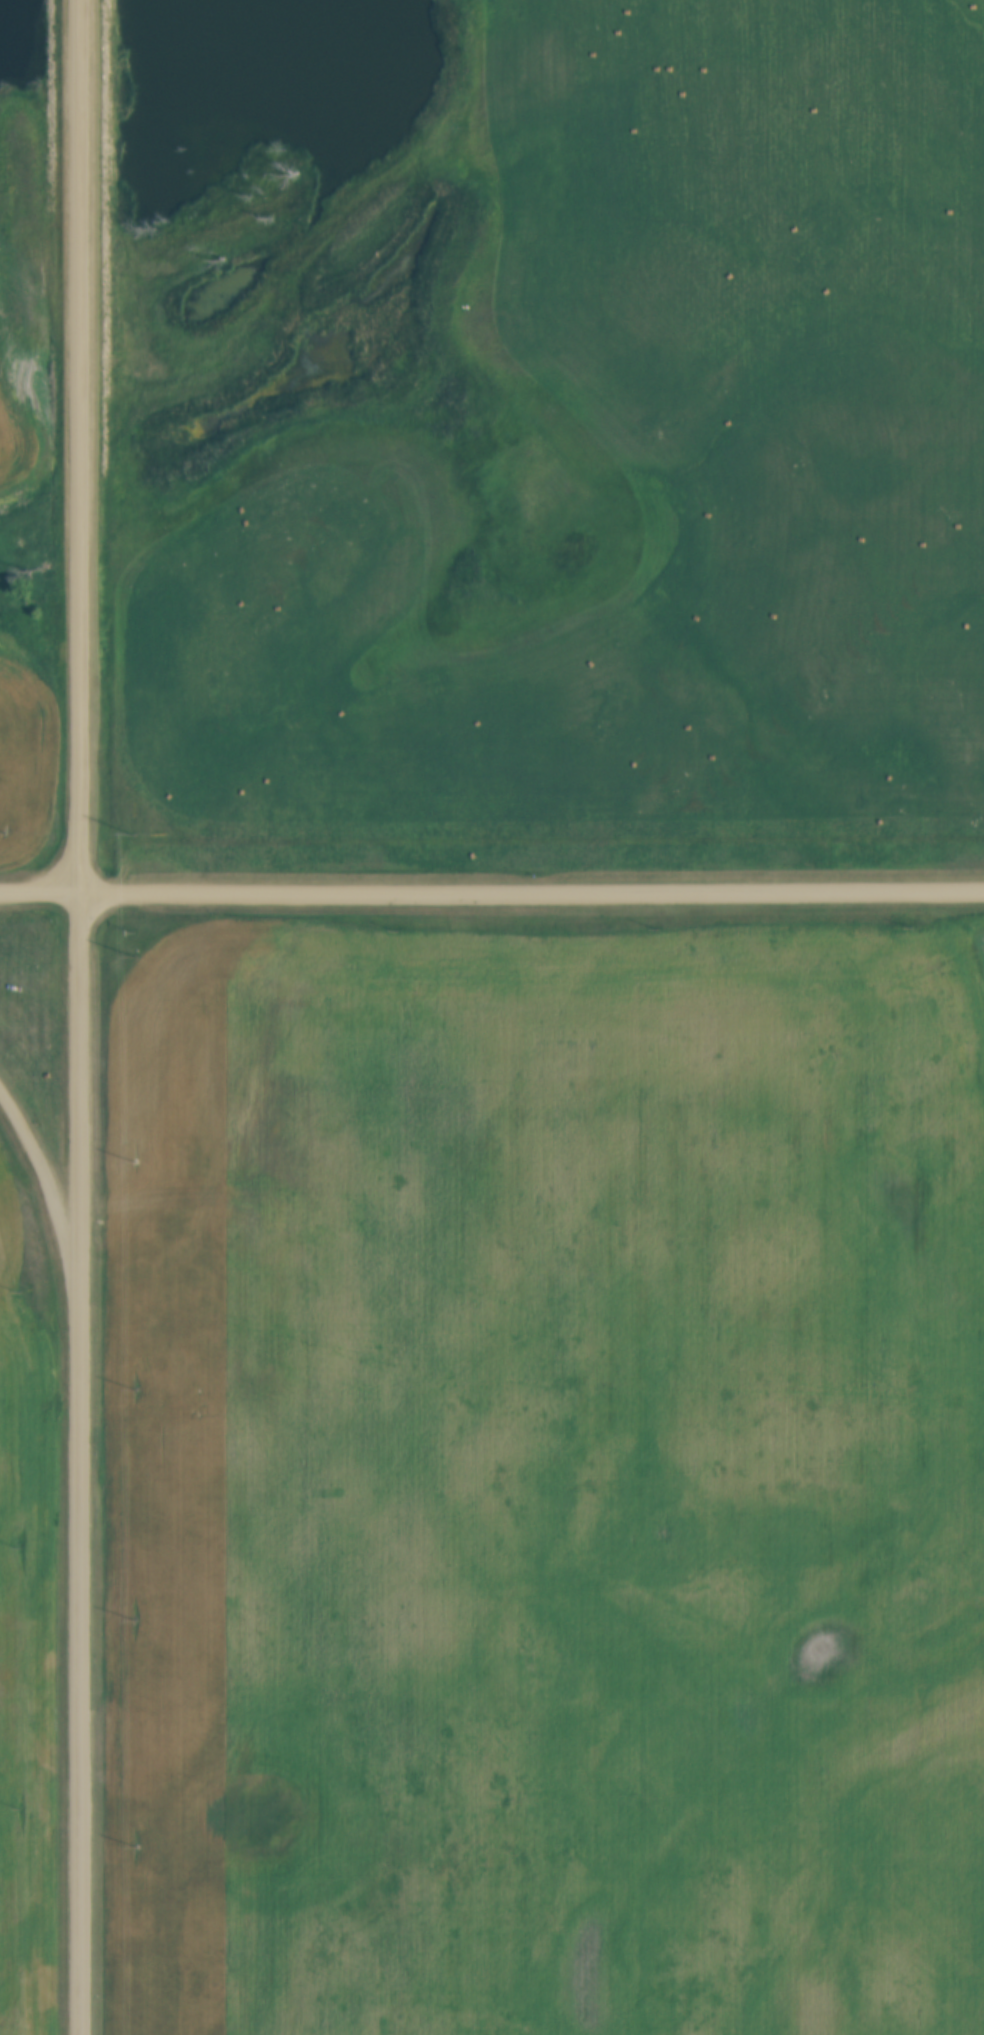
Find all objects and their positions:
road: (492, 888)
road: (83, 1017)
road: (52, 1176)

